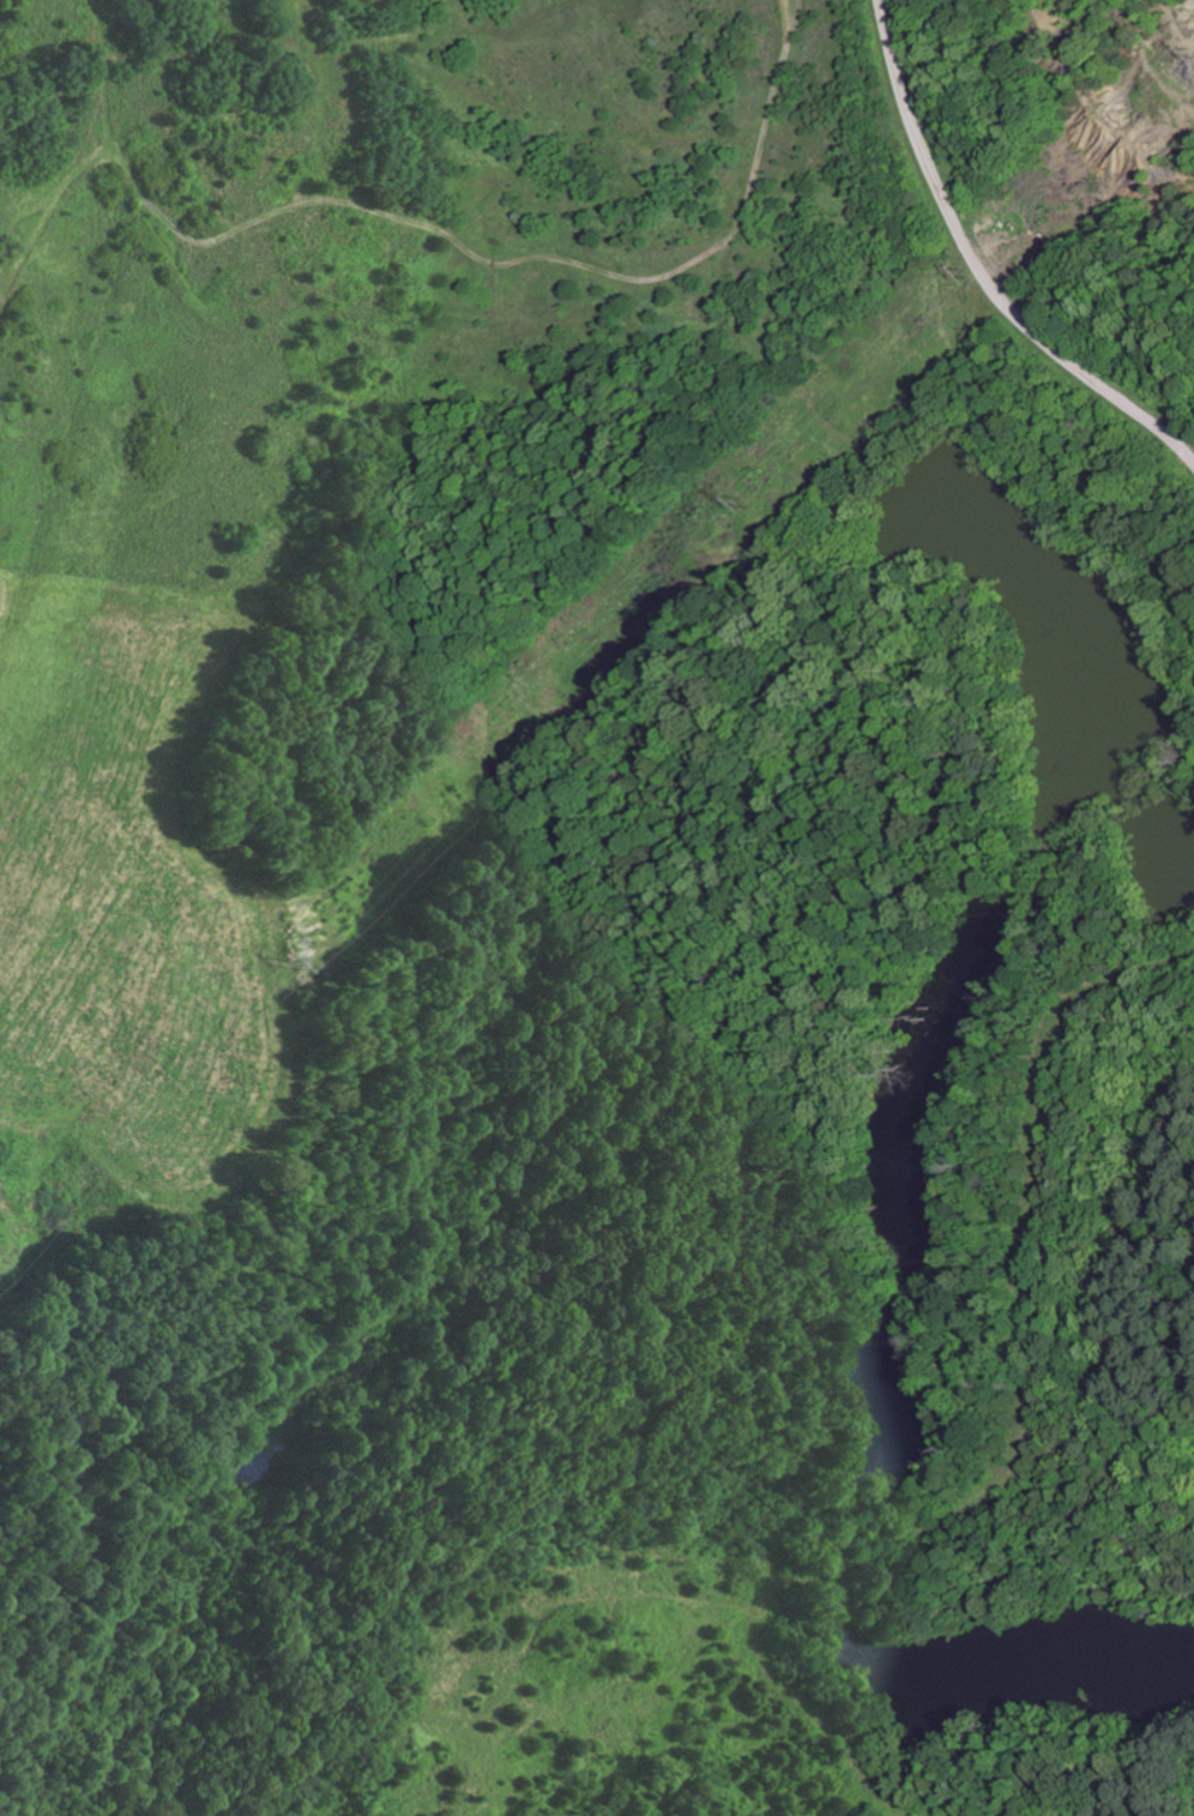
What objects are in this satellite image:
road: (983, 267)

